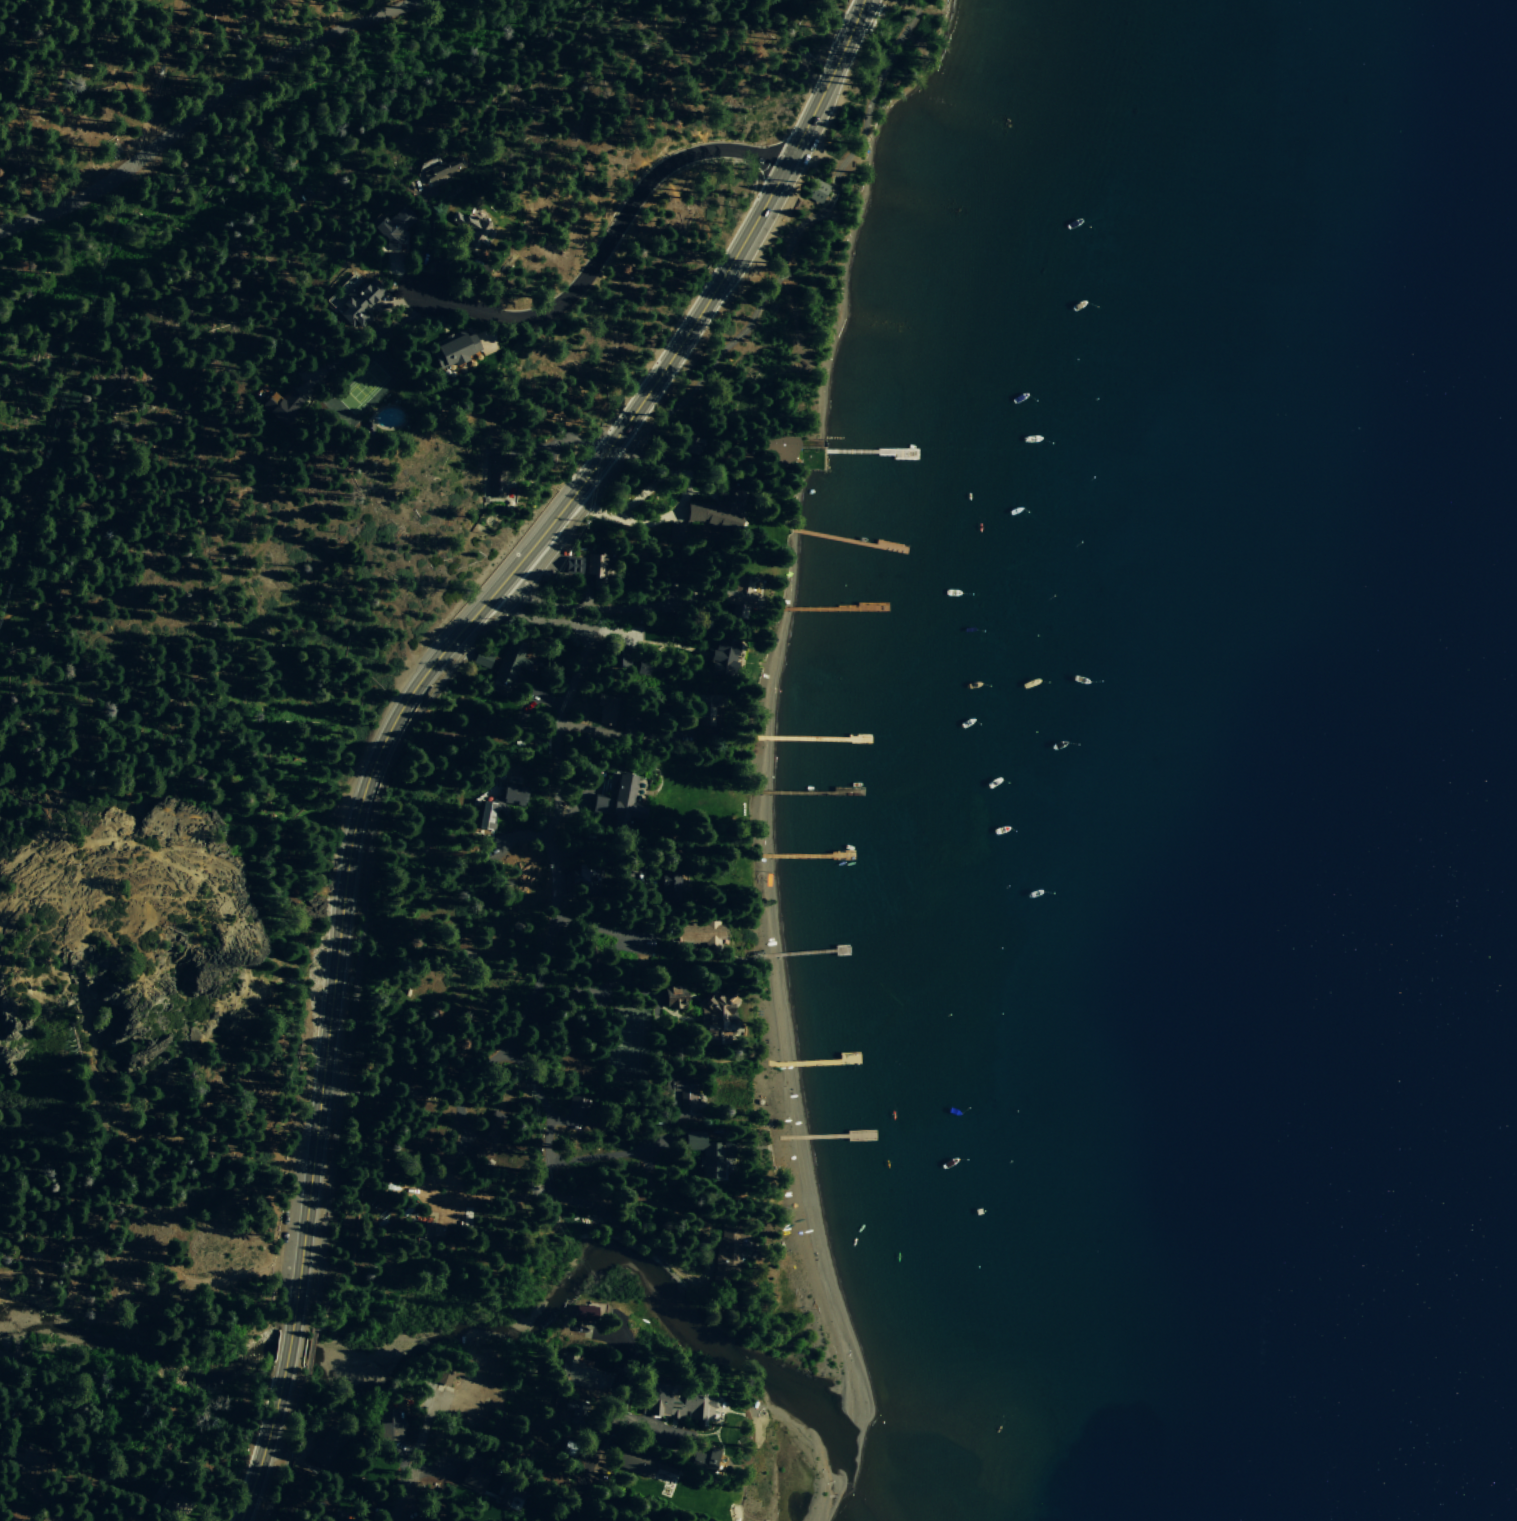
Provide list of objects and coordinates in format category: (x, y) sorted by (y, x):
road: (150, 72)
road: (204, 103)
building: (442, 171)
building: (470, 231)
building: (390, 232)
road: (423, 237)
road: (606, 241)
building: (359, 303)
road: (92, 319)
road: (363, 343)
building: (453, 349)
park: (360, 387)
building: (281, 406)
road: (561, 439)
building: (690, 447)
building: (777, 451)
pier: (867, 451)
road: (679, 462)
building: (497, 475)
road: (683, 489)
building: (719, 511)
road: (591, 512)
building: (675, 532)
pier: (848, 540)
road: (243, 555)
building: (596, 565)
building: (573, 566)
building: (739, 593)
road: (588, 609)
pier: (832, 609)
road: (502, 612)
road: (467, 622)
road: (611, 630)
building: (724, 654)
building: (619, 655)
building: (482, 659)
building: (510, 662)
building: (647, 665)
road: (539, 694)
building: (606, 709)
building: (705, 710)
road: (523, 727)
road: (622, 735)
pier: (812, 739)
pier: (806, 792)
building: (618, 802)
road: (581, 803)
building: (484, 815)
road: (523, 834)
road: (132, 841)
pier: (803, 855)
road: (598, 859)
building: (671, 878)
building: (580, 884)
road: (555, 889)
road: (601, 931)
building: (698, 933)
pier: (806, 953)
building: (588, 962)
road: (596, 985)
building: (404, 991)
building: (674, 996)
building: (717, 1015)
park: (630, 1048)
pier: (815, 1062)
building: (685, 1099)
building: (579, 1109)
road: (546, 1112)
road: (461, 1119)
road: (603, 1122)
building: (490, 1125)
road: (163, 1130)
pier: (826, 1136)
building: (707, 1152)
road: (603, 1156)
building: (465, 1163)
parking lot: (293, 1192)
road: (573, 1200)
road: (509, 1201)
road: (448, 1208)
building: (421, 1230)
building: (728, 1250)
road: (711, 1257)
road: (149, 1261)
road: (310, 1347)
road: (283, 1362)
building: (573, 1372)
building: (444, 1377)
building: (678, 1404)
building: (389, 1423)
road: (292, 1449)
building: (320, 1456)
building: (27, 1458)
building: (711, 1460)
road: (261, 1461)
building: (640, 1463)
building: (473, 1476)
road: (587, 1476)
road: (399, 1491)
building: (169, 1497)
building: (508, 1497)
road: (24, 1510)

